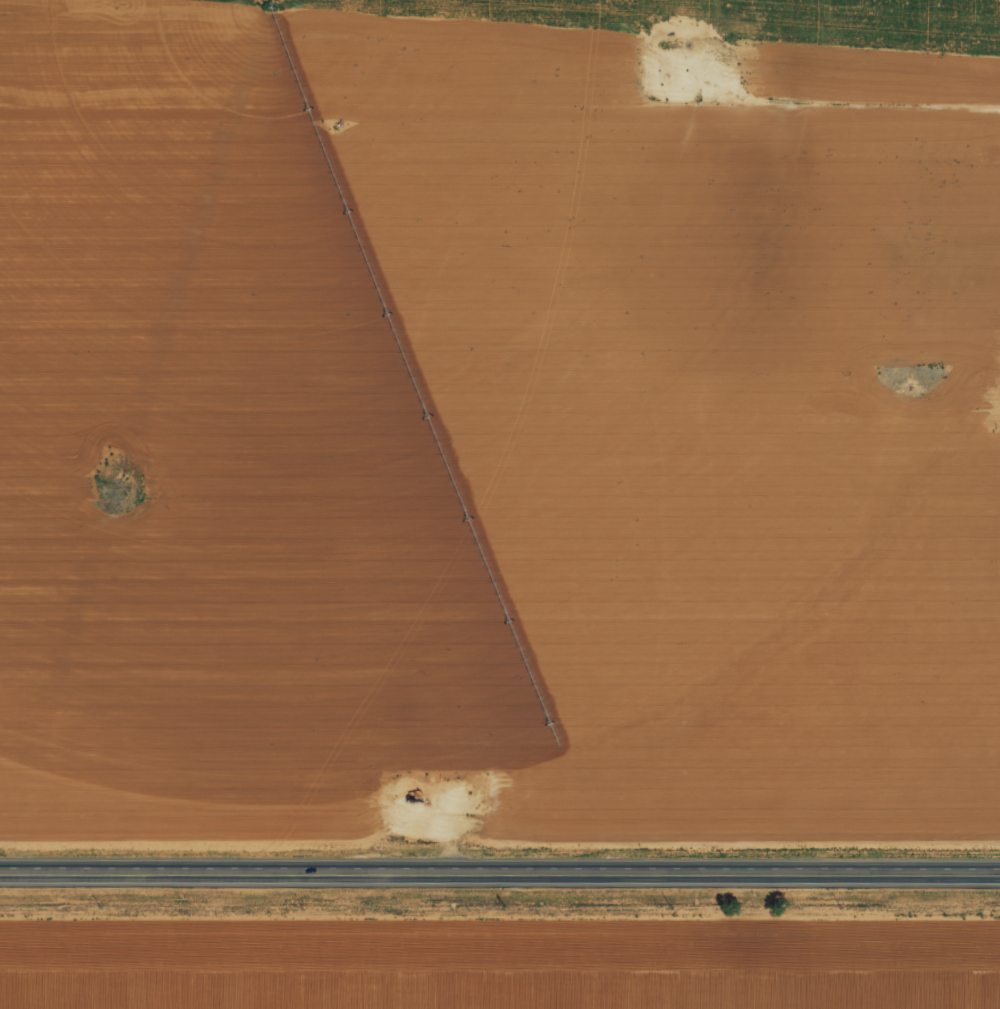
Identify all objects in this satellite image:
petroleum well: (414, 797)
road: (500, 876)

